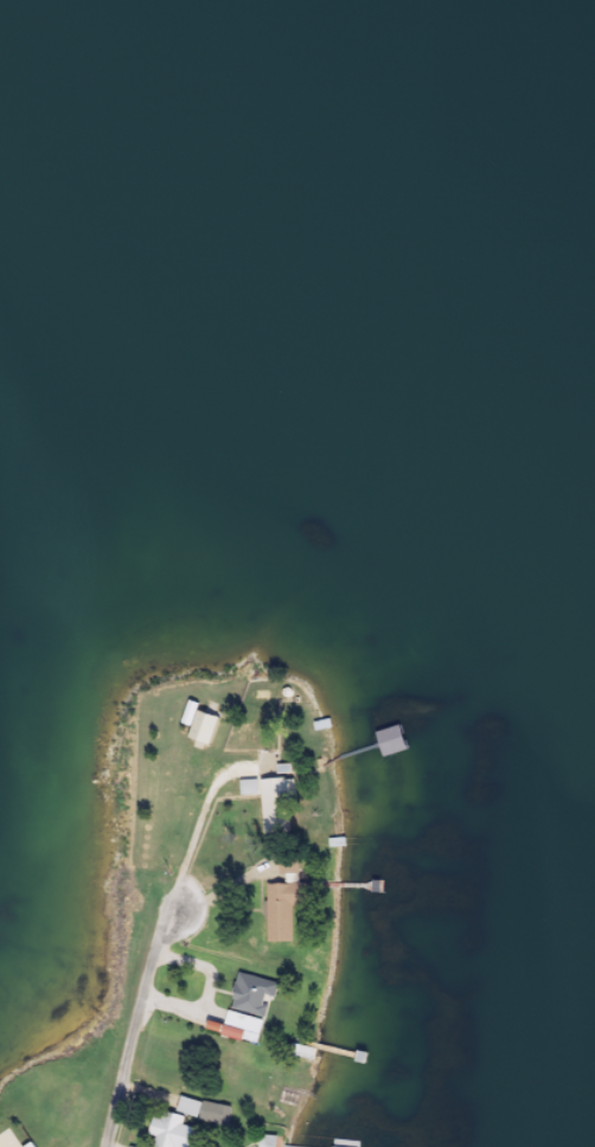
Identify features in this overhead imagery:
building: (203, 733)
building: (251, 795)
building: (277, 813)
building: (286, 912)
building: (255, 1004)
road: (137, 1023)
building: (239, 1036)
building: (205, 1119)
building: (172, 1135)
building: (270, 1145)

